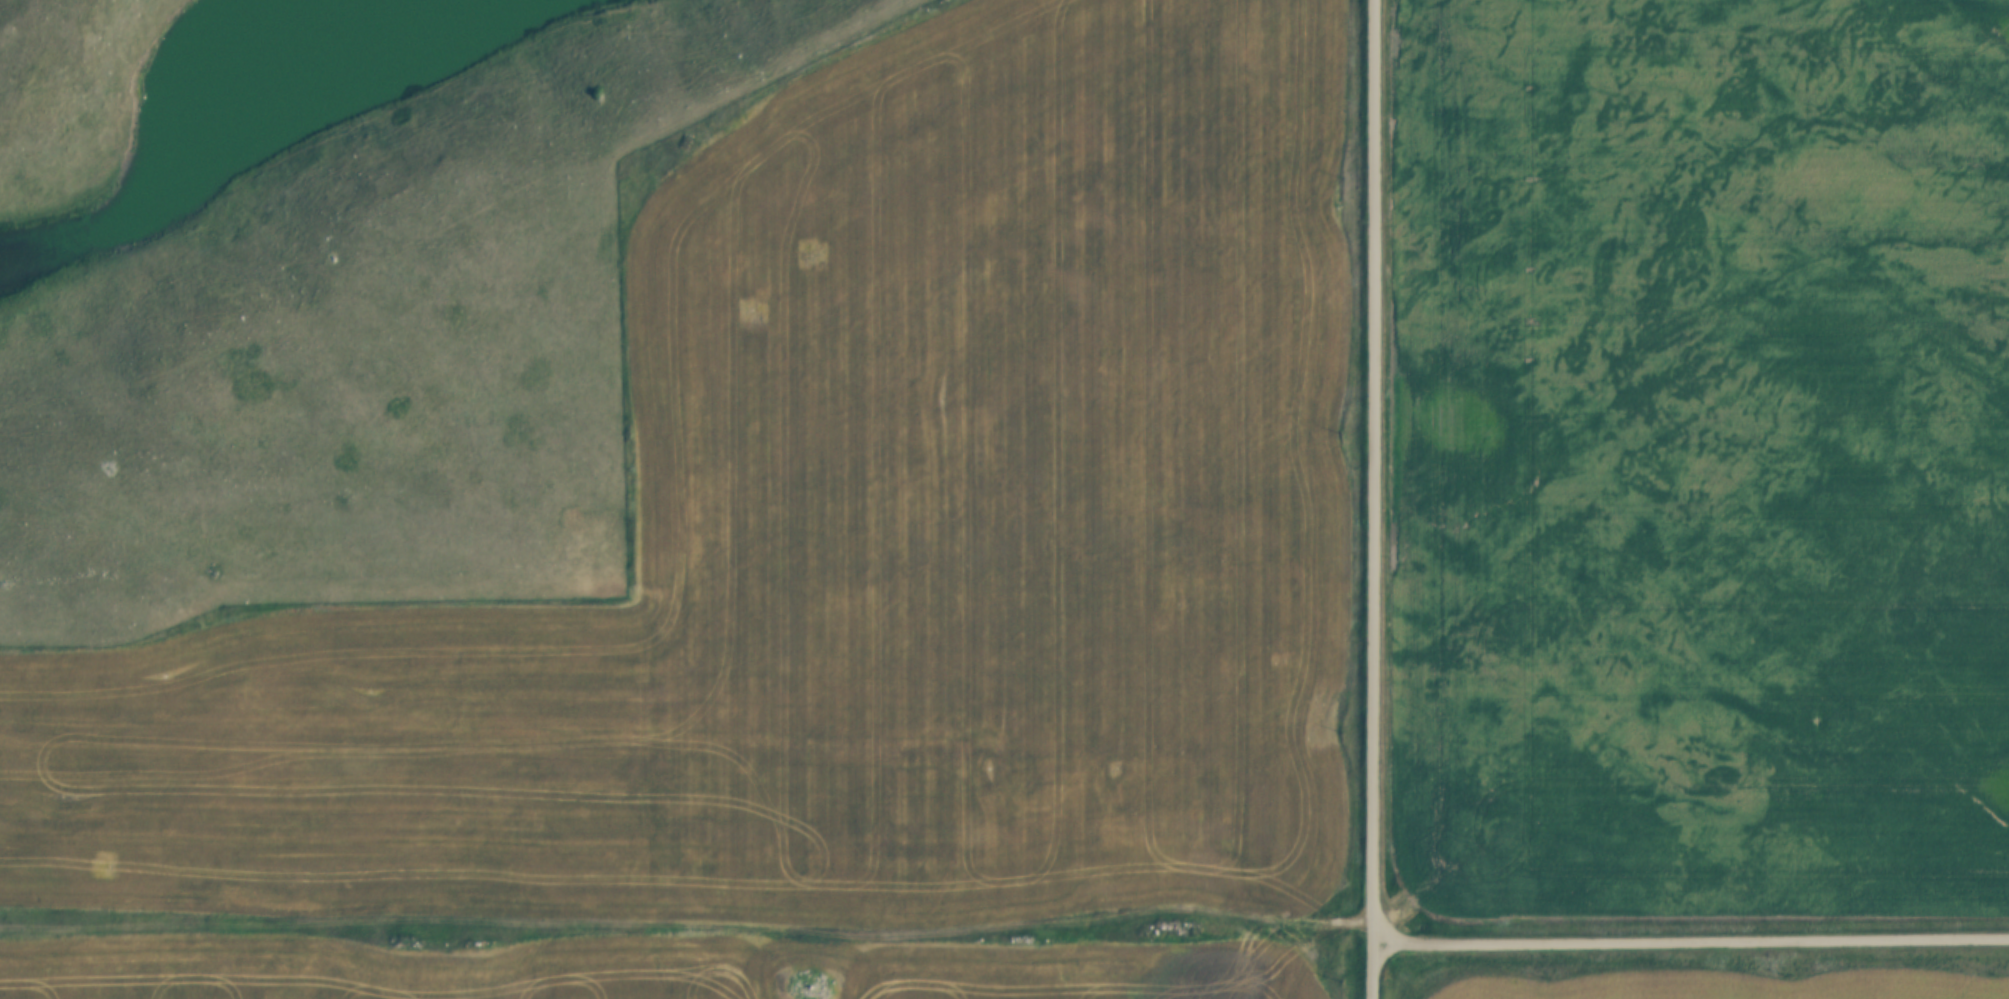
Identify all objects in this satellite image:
road: (1374, 499)
road: (688, 928)
road: (1691, 939)

